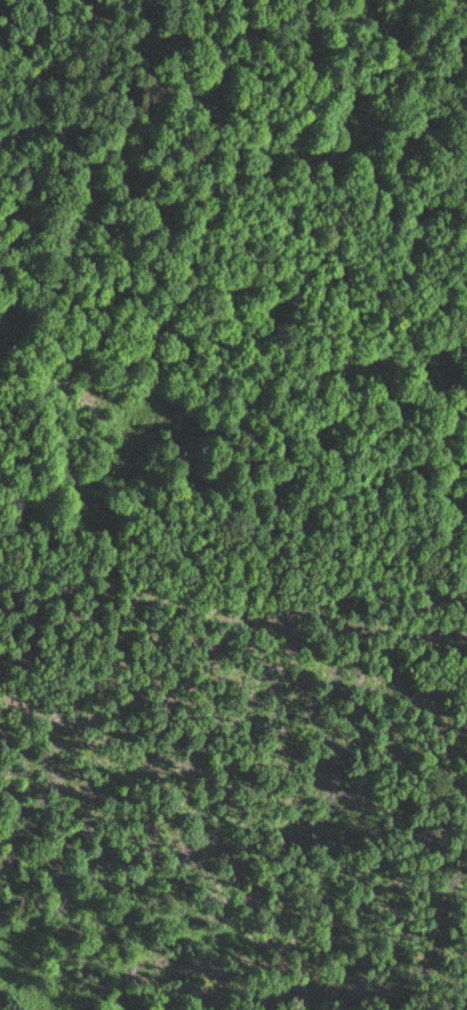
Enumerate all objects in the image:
road: (395, 912)

